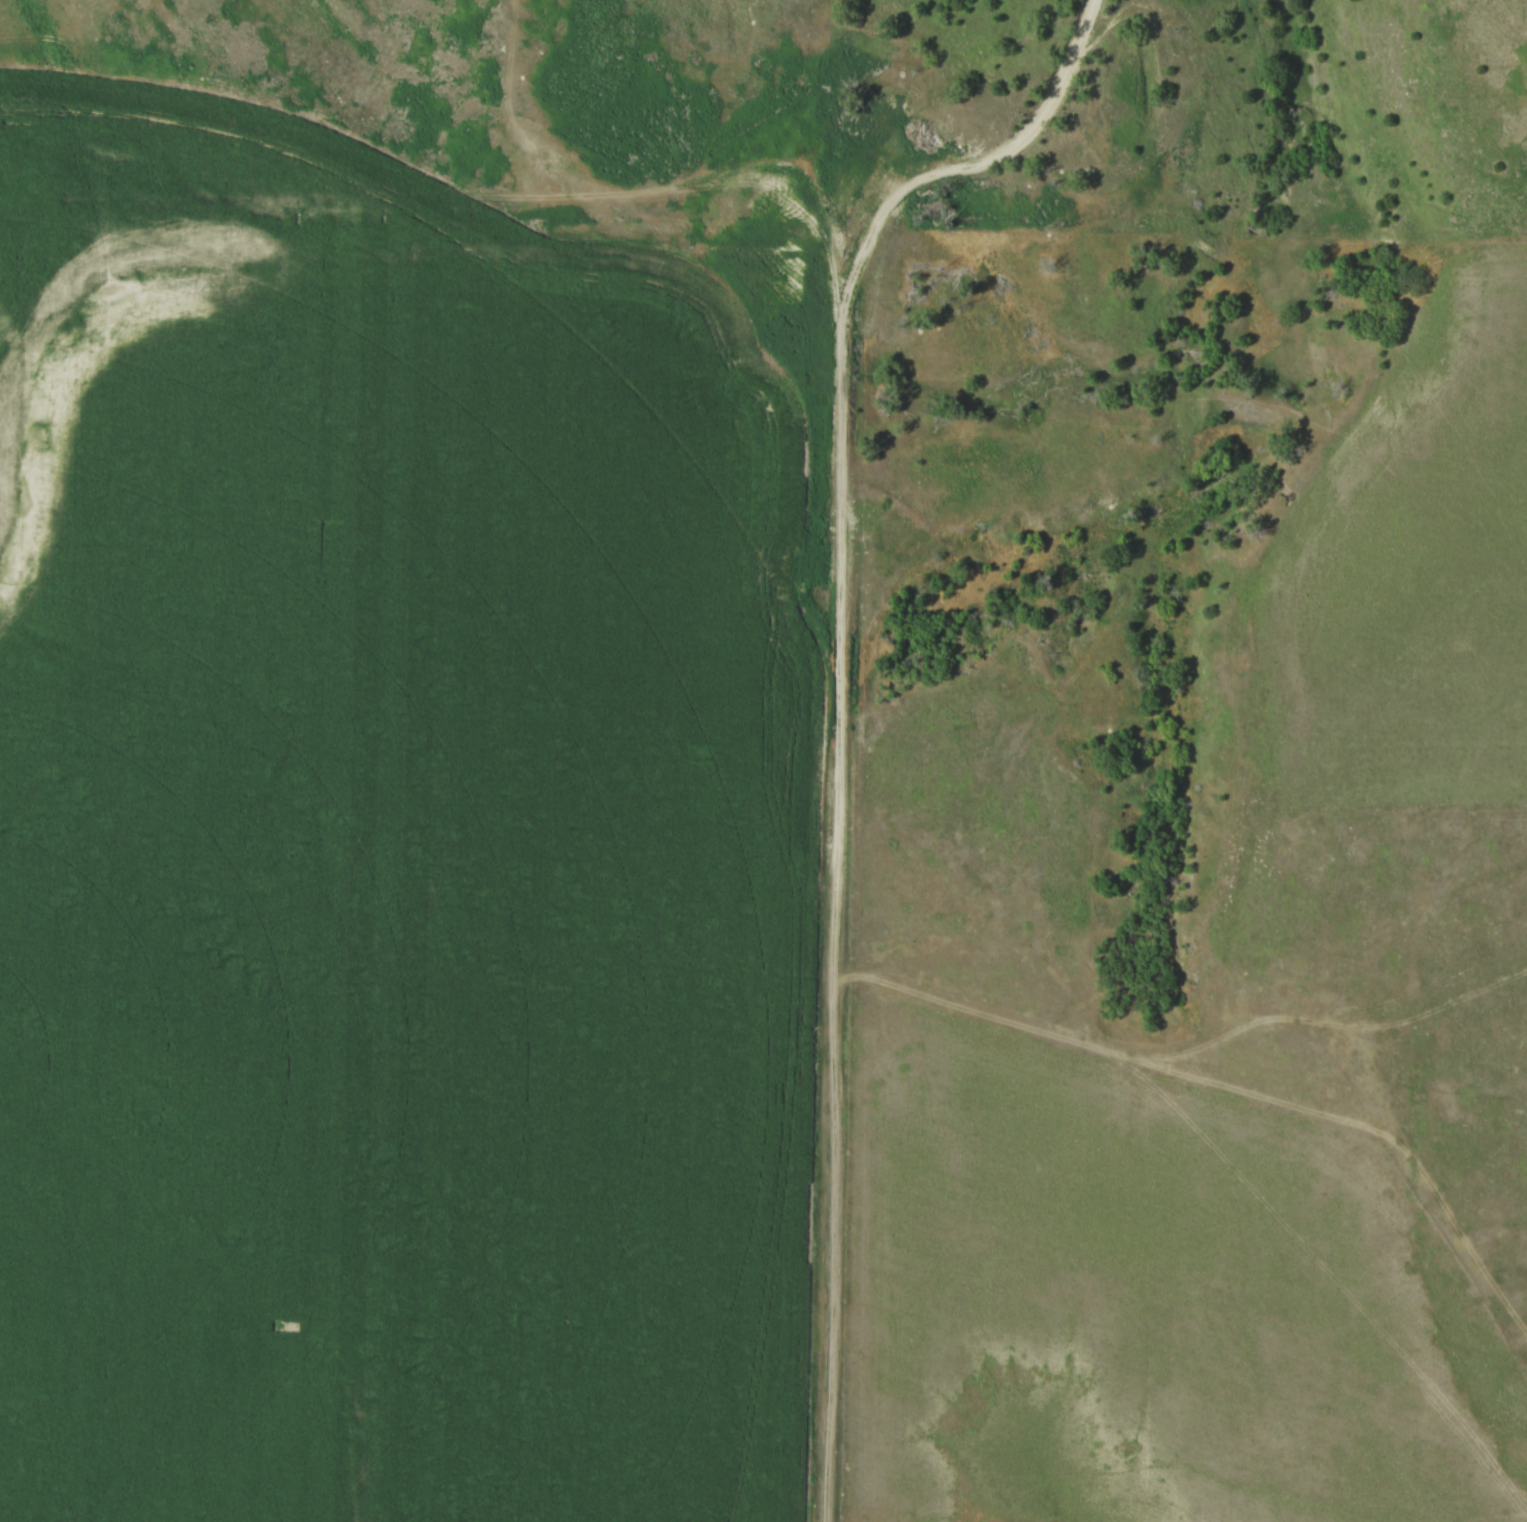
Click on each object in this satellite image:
road: (475, 228)
road: (834, 904)

